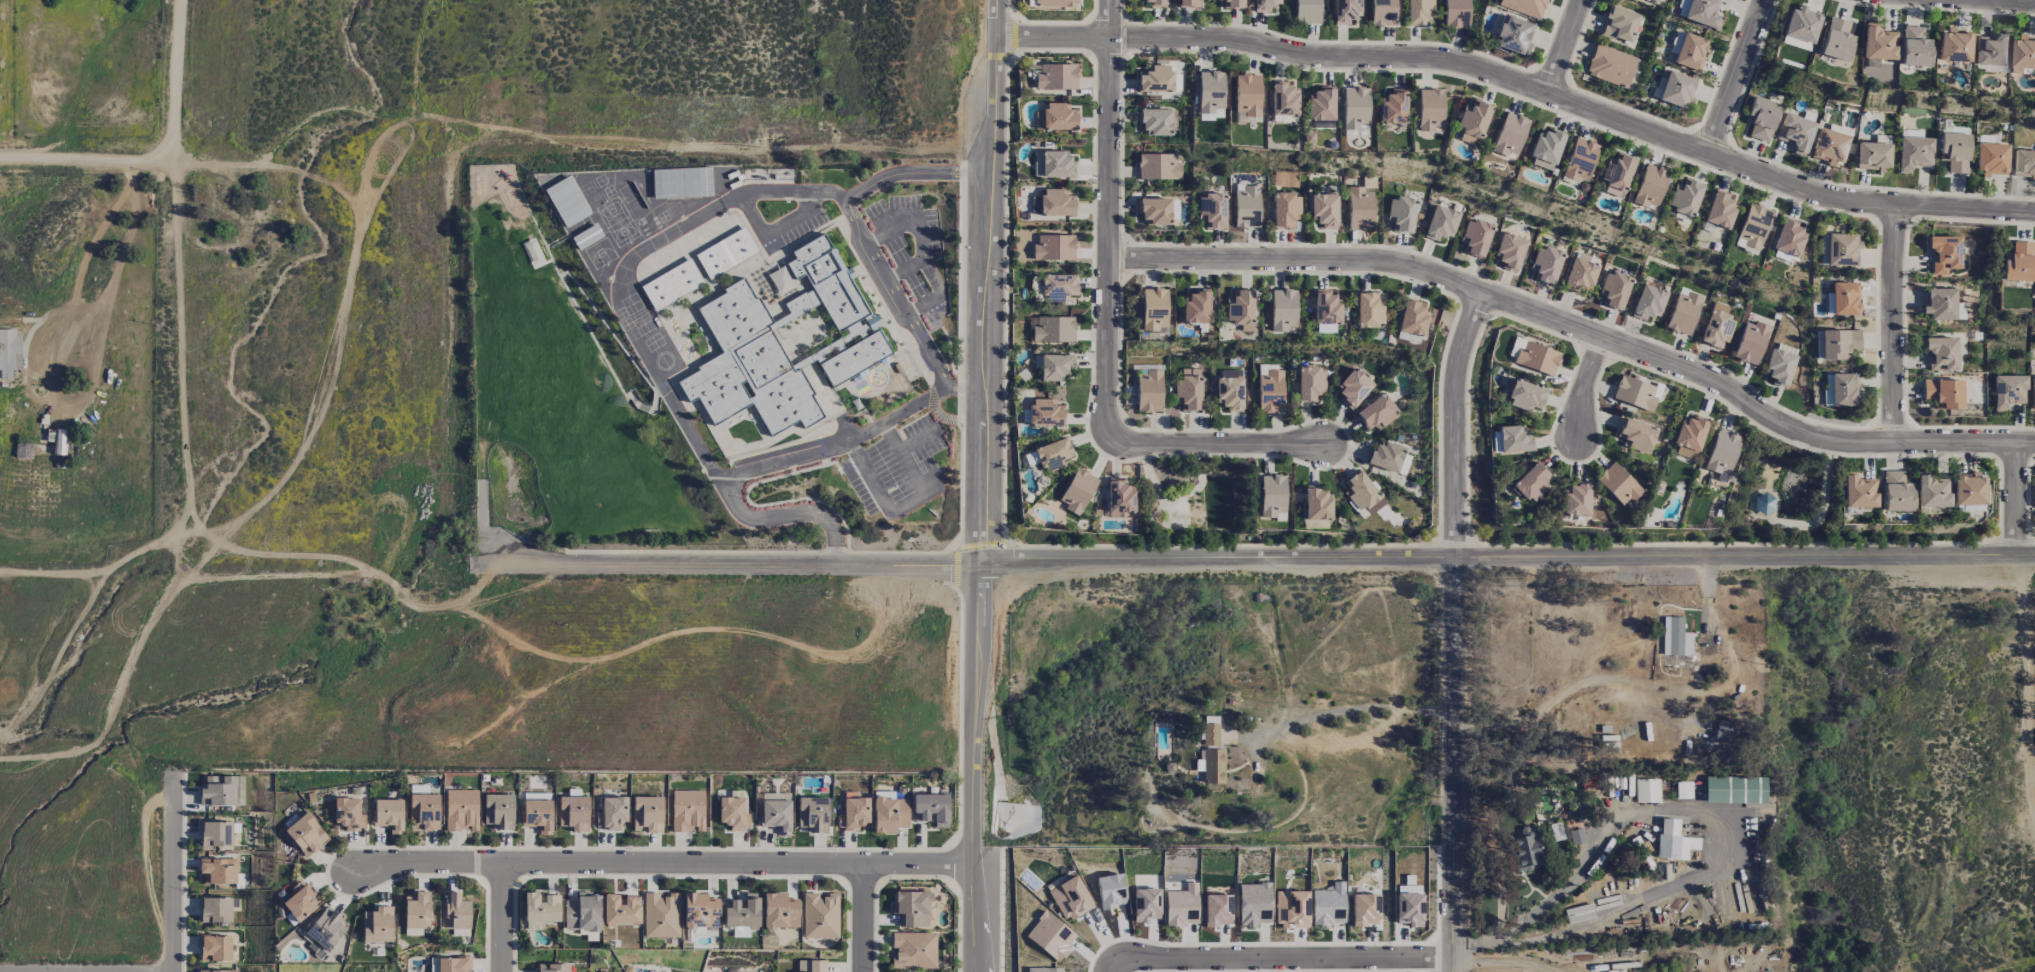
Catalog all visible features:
building: (1654, 1)
road: (2001, 1)
building: (1029, 3)
building: (1055, 3)
building: (1154, 3)
building: (1188, 3)
building: (1230, 4)
building: (1264, 5)
building: (1524, 6)
building: (1346, 10)
building: (1307, 11)
building: (1418, 11)
building: (1699, 12)
building: (1382, 13)
building: (1456, 13)
building: (1619, 24)
building: (1801, 24)
building: (1513, 34)
building: (1837, 40)
building: (1795, 43)
building: (1878, 43)
building: (1954, 46)
road: (1563, 47)
building: (1915, 47)
building: (1992, 49)
building: (1690, 52)
building: (2023, 56)
building: (1610, 66)
road: (1005, 70)
building: (1056, 76)
road: (1734, 77)
building: (1155, 78)
road: (174, 81)
road: (1523, 86)
building: (1657, 87)
building: (1677, 90)
building: (1210, 91)
building: (1247, 94)
building: (1284, 99)
building: (1321, 104)
building: (1393, 107)
building: (1429, 109)
building: (1056, 117)
building: (1761, 118)
building: (1155, 121)
building: (1473, 121)
building: (1795, 132)
building: (1509, 134)
building: (1829, 146)
building: (1545, 149)
building: (1954, 151)
building: (1913, 153)
building: (1873, 156)
building: (1578, 159)
building: (1991, 159)
road: (84, 162)
building: (2023, 163)
building: (1057, 164)
building: (1158, 166)
building: (1616, 173)
building: (681, 182)
building: (1649, 186)
building: (1684, 197)
building: (566, 201)
building: (1056, 202)
building: (1246, 205)
building: (1359, 208)
building: (1212, 210)
building: (1286, 210)
building: (1719, 210)
building: (1154, 211)
building: (1324, 211)
building: (1401, 214)
road: (1107, 217)
building: (1441, 223)
road: (857, 224)
building: (1754, 225)
building: (586, 236)
building: (1475, 237)
building: (1789, 237)
building: (1054, 247)
building: (1823, 249)
building: (1842, 249)
building: (1509, 251)
building: (726, 252)
building: (1943, 253)
building: (2017, 262)
road: (625, 263)
building: (1545, 264)
building: (1580, 275)
road: (962, 276)
building: (822, 280)
road: (988, 282)
building: (671, 284)
building: (1057, 287)
building: (1613, 290)
road: (91, 297)
road: (1005, 298)
building: (1845, 298)
building: (1648, 302)
building: (1939, 303)
building: (1196, 307)
building: (1326, 307)
building: (1154, 309)
building: (1240, 309)
building: (1283, 310)
building: (1369, 310)
building: (1683, 313)
building: (1413, 319)
road: (1891, 324)
building: (1716, 325)
building: (1325, 328)
building: (1052, 329)
road: (1577, 330)
building: (1408, 337)
building: (1750, 342)
building: (1838, 343)
building: (856, 350)
building: (9, 352)
building: (1940, 352)
road: (180, 358)
building: (1536, 358)
building: (808, 360)
building: (750, 363)
building: (1779, 366)
building: (1056, 367)
building: (1310, 384)
road: (1582, 386)
building: (1353, 388)
building: (1270, 389)
building: (1839, 389)
road: (964, 390)
building: (1188, 390)
building: (1149, 391)
building: (2008, 391)
building: (2032, 392)
building: (1229, 393)
building: (1634, 393)
building: (1943, 393)
building: (1525, 396)
road: (78, 402)
building: (1045, 412)
building: (1376, 413)
road: (1454, 424)
building: (1635, 435)
building: (1688, 437)
building: (1513, 439)
building: (56, 440)
road: (1213, 444)
building: (1052, 454)
building: (1385, 456)
building: (1718, 458)
road: (753, 463)
building: (1769, 477)
building: (1531, 482)
building: (1617, 484)
building: (1968, 489)
building: (1077, 491)
building: (1931, 491)
building: (1858, 492)
building: (1896, 492)
building: (1362, 493)
building: (1271, 495)
building: (1119, 498)
building: (1576, 499)
road: (2013, 499)
building: (1317, 503)
road: (907, 504)
building: (1970, 508)
road: (962, 538)
road: (983, 542)
road: (1018, 547)
road: (745, 552)
road: (1508, 557)
road: (730, 566)
road: (107, 568)
road: (955, 568)
road: (947, 580)
building: (1674, 637)
road: (114, 694)
road: (1361, 708)
road: (960, 714)
road: (2024, 719)
building: (1210, 734)
road: (1452, 764)
building: (1212, 766)
road: (972, 768)
building: (418, 789)
building: (1734, 789)
building: (1646, 790)
building: (217, 791)
building: (536, 796)
building: (931, 808)
building: (461, 809)
building: (498, 811)
building: (687, 811)
building: (423, 812)
road: (1710, 812)
building: (346, 813)
building: (573, 813)
building: (611, 813)
building: (733, 813)
building: (853, 813)
building: (388, 814)
building: (646, 814)
building: (812, 814)
building: (889, 814)
building: (536, 815)
building: (775, 815)
road: (962, 829)
building: (215, 833)
building: (305, 834)
building: (1673, 841)
building: (1524, 850)
road: (662, 864)
road: (951, 864)
building: (218, 871)
road: (172, 872)
road: (943, 875)
building: (1110, 890)
building: (1070, 898)
building: (299, 901)
building: (1254, 903)
building: (1145, 904)
building: (1328, 905)
building: (1181, 906)
building: (541, 907)
building: (911, 908)
building: (215, 909)
building: (1291, 909)
building: (1364, 909)
building: (1409, 909)
building: (620, 910)
building: (1217, 910)
building: (455, 911)
building: (779, 911)
building: (582, 912)
building: (699, 912)
building: (416, 913)
building: (741, 914)
building: (660, 915)
building: (819, 915)
road: (501, 918)
road: (861, 918)
building: (377, 925)
building: (324, 931)
road: (958, 934)
building: (1050, 936)
building: (215, 948)
building: (913, 950)
road: (1281, 958)
road: (1504, 961)
building: (449, 964)
building: (810, 966)
building: (552, 967)
road: (1109, 967)
building: (1044, 969)
building: (215, 971)

